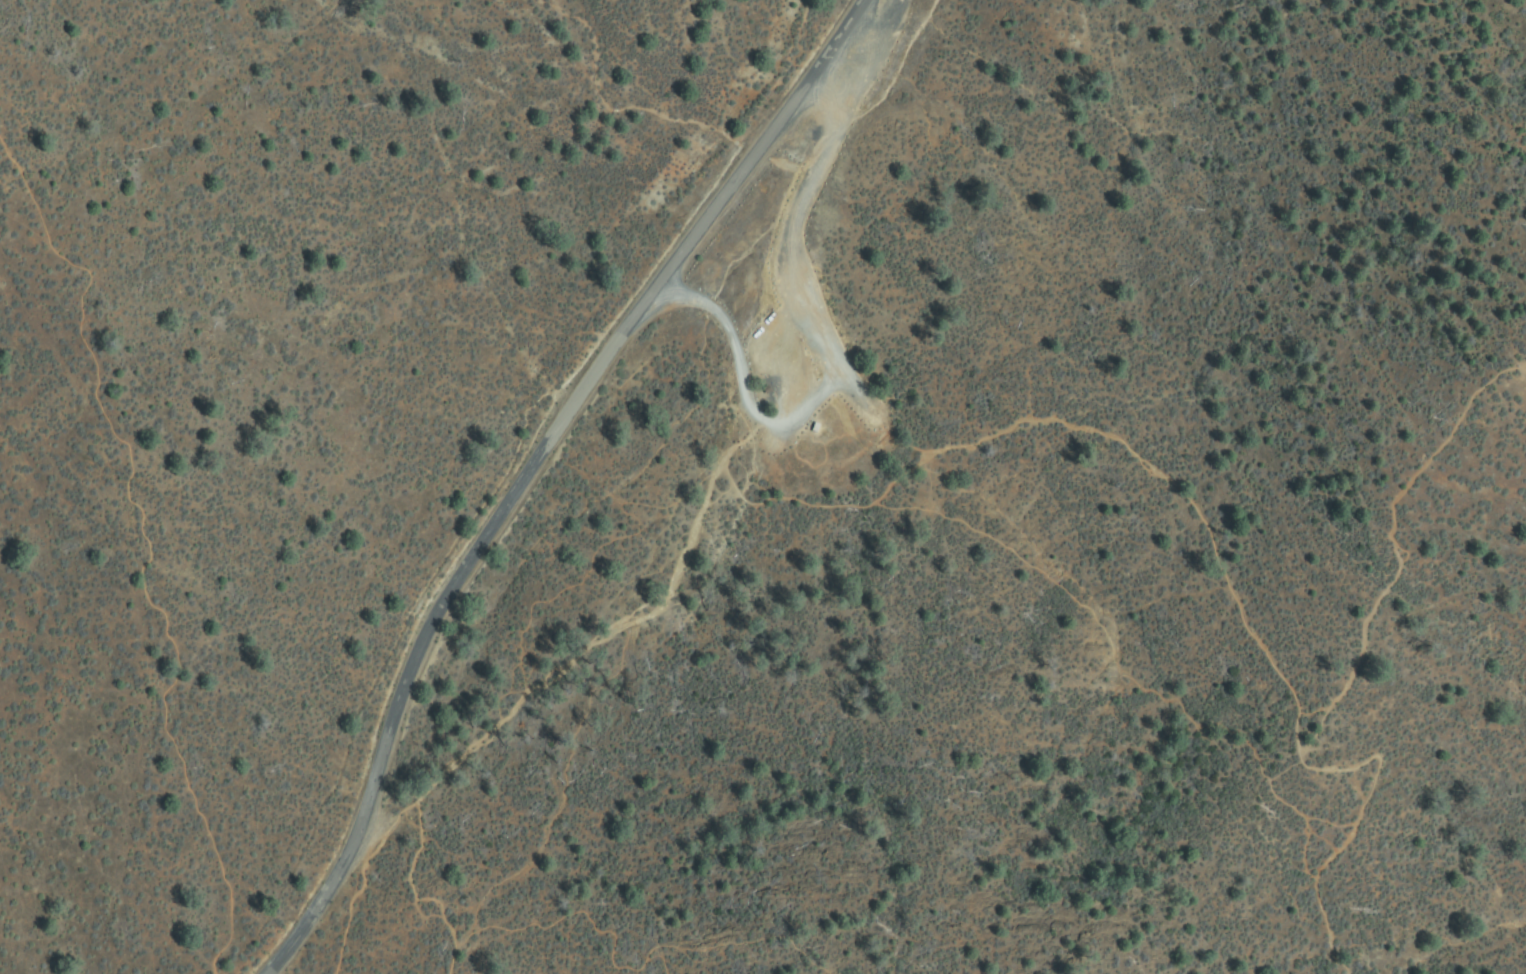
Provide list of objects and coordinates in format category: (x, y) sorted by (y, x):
road: (899, 76)
road: (818, 335)
building: (816, 428)
road: (1155, 466)
road: (512, 469)
road: (1391, 541)
road: (146, 547)
road: (540, 678)
road: (1359, 818)
road: (349, 886)
road: (575, 907)
road: (445, 953)

